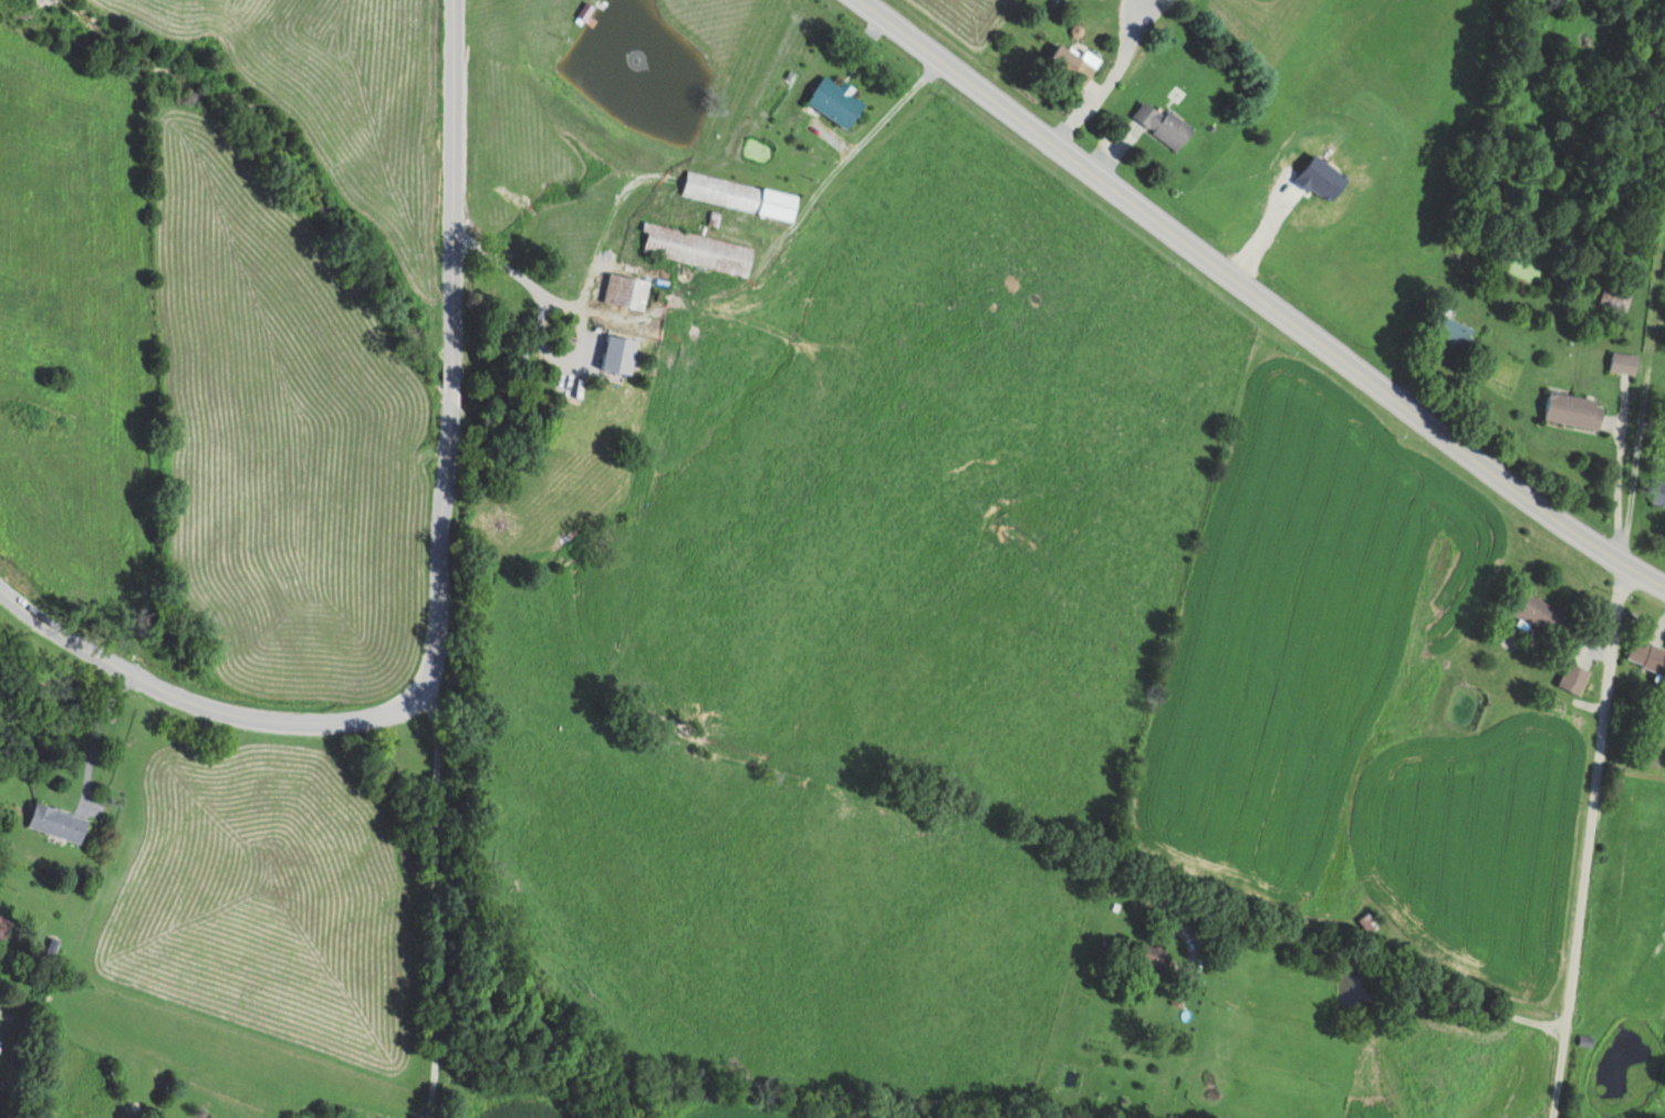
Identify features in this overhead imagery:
building: (1076, 62)
building: (839, 100)
building: (1164, 123)
road: (846, 151)
building: (741, 196)
building: (698, 249)
building: (627, 291)
building: (1616, 294)
road: (1260, 297)
road: (571, 311)
building: (1624, 363)
building: (577, 406)
building: (1575, 410)
building: (1659, 494)
road: (454, 600)
building: (1543, 616)
building: (1648, 655)
building: (1575, 678)
road: (403, 801)
building: (60, 823)
road: (1592, 842)
building: (1149, 960)
road: (1330, 962)
road: (408, 992)

